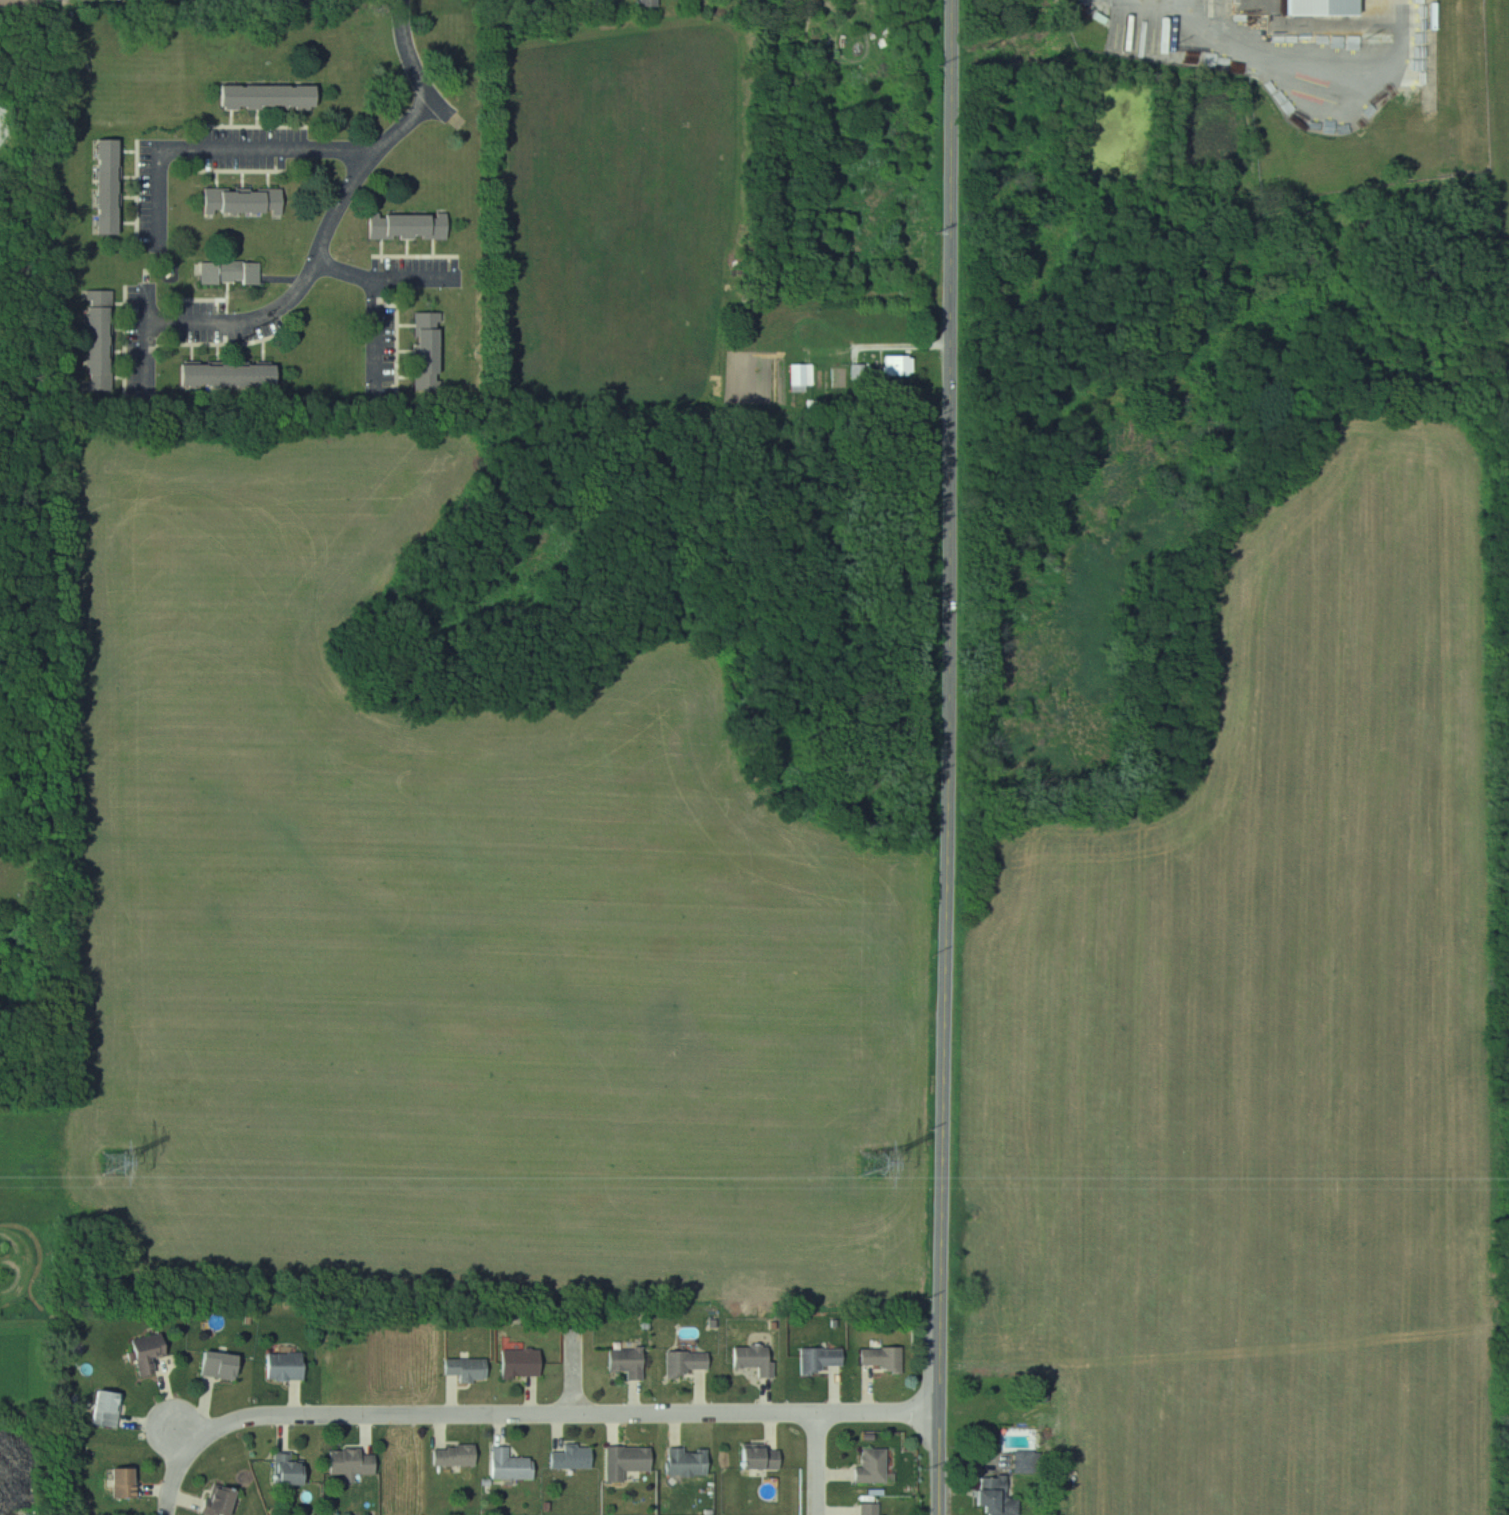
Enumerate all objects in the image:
road: (65, 2)
building: (1317, 8)
building: (275, 98)
road: (230, 152)
road: (380, 154)
building: (114, 186)
building: (247, 202)
building: (414, 226)
building: (234, 273)
road: (378, 274)
building: (104, 332)
road: (234, 334)
building: (432, 345)
road: (908, 357)
building: (897, 364)
building: (801, 374)
building: (235, 376)
road: (950, 757)
power tower: (118, 1163)
power tower: (872, 1165)
building: (154, 1352)
building: (880, 1358)
building: (753, 1359)
building: (817, 1359)
building: (622, 1362)
building: (683, 1362)
building: (516, 1363)
building: (227, 1365)
building: (290, 1366)
building: (464, 1368)
road: (576, 1370)
building: (113, 1408)
road: (526, 1414)
road: (185, 1434)
building: (451, 1455)
building: (570, 1457)
building: (756, 1458)
building: (623, 1461)
building: (685, 1461)
building: (352, 1464)
road: (817, 1464)
building: (508, 1465)
building: (869, 1466)
building: (294, 1471)
building: (130, 1482)
building: (993, 1497)
building: (225, 1502)
building: (867, 1509)

